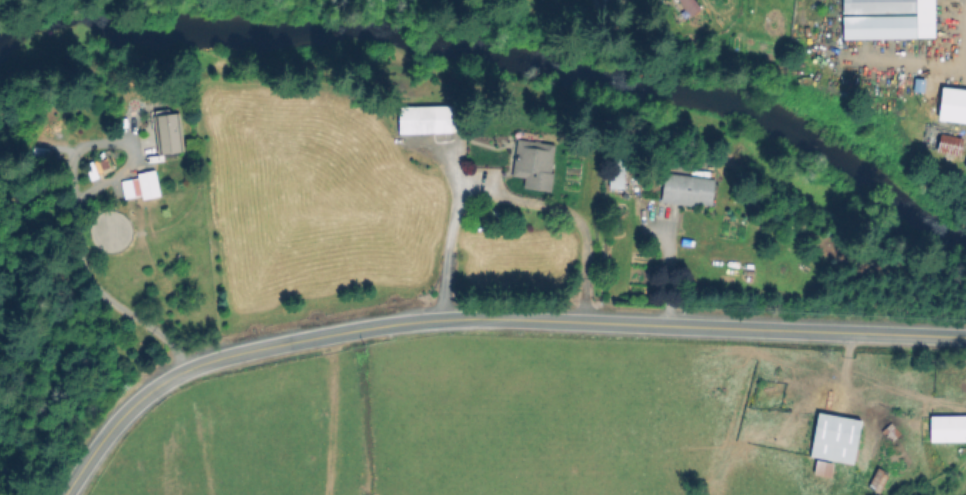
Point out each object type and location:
building: (602, 4)
building: (688, 6)
building: (884, 17)
building: (951, 101)
building: (428, 120)
building: (102, 126)
building: (168, 132)
building: (952, 139)
building: (535, 162)
building: (618, 172)
building: (150, 184)
building: (688, 189)
road: (508, 197)
road: (659, 265)
road: (83, 275)
road: (482, 316)
building: (949, 428)
building: (835, 442)
building: (884, 449)
building: (879, 480)

